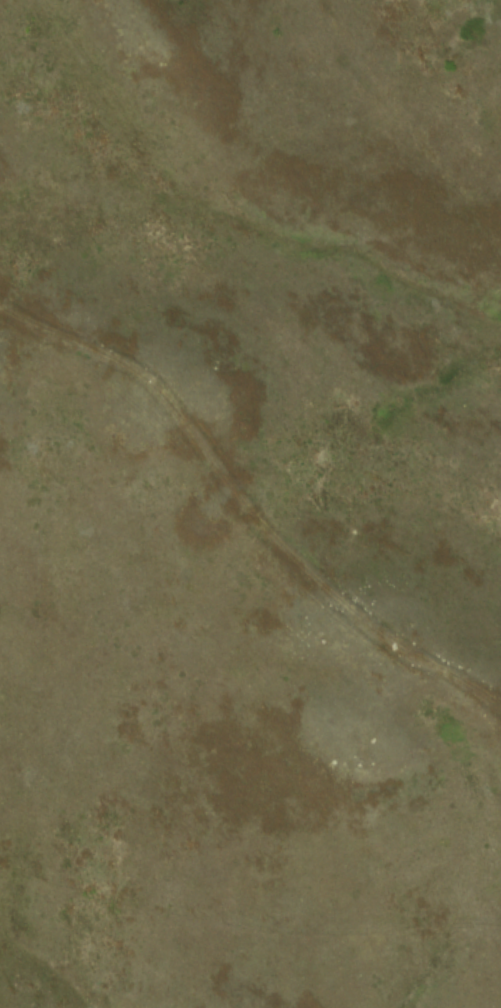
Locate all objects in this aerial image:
road: (233, 524)

